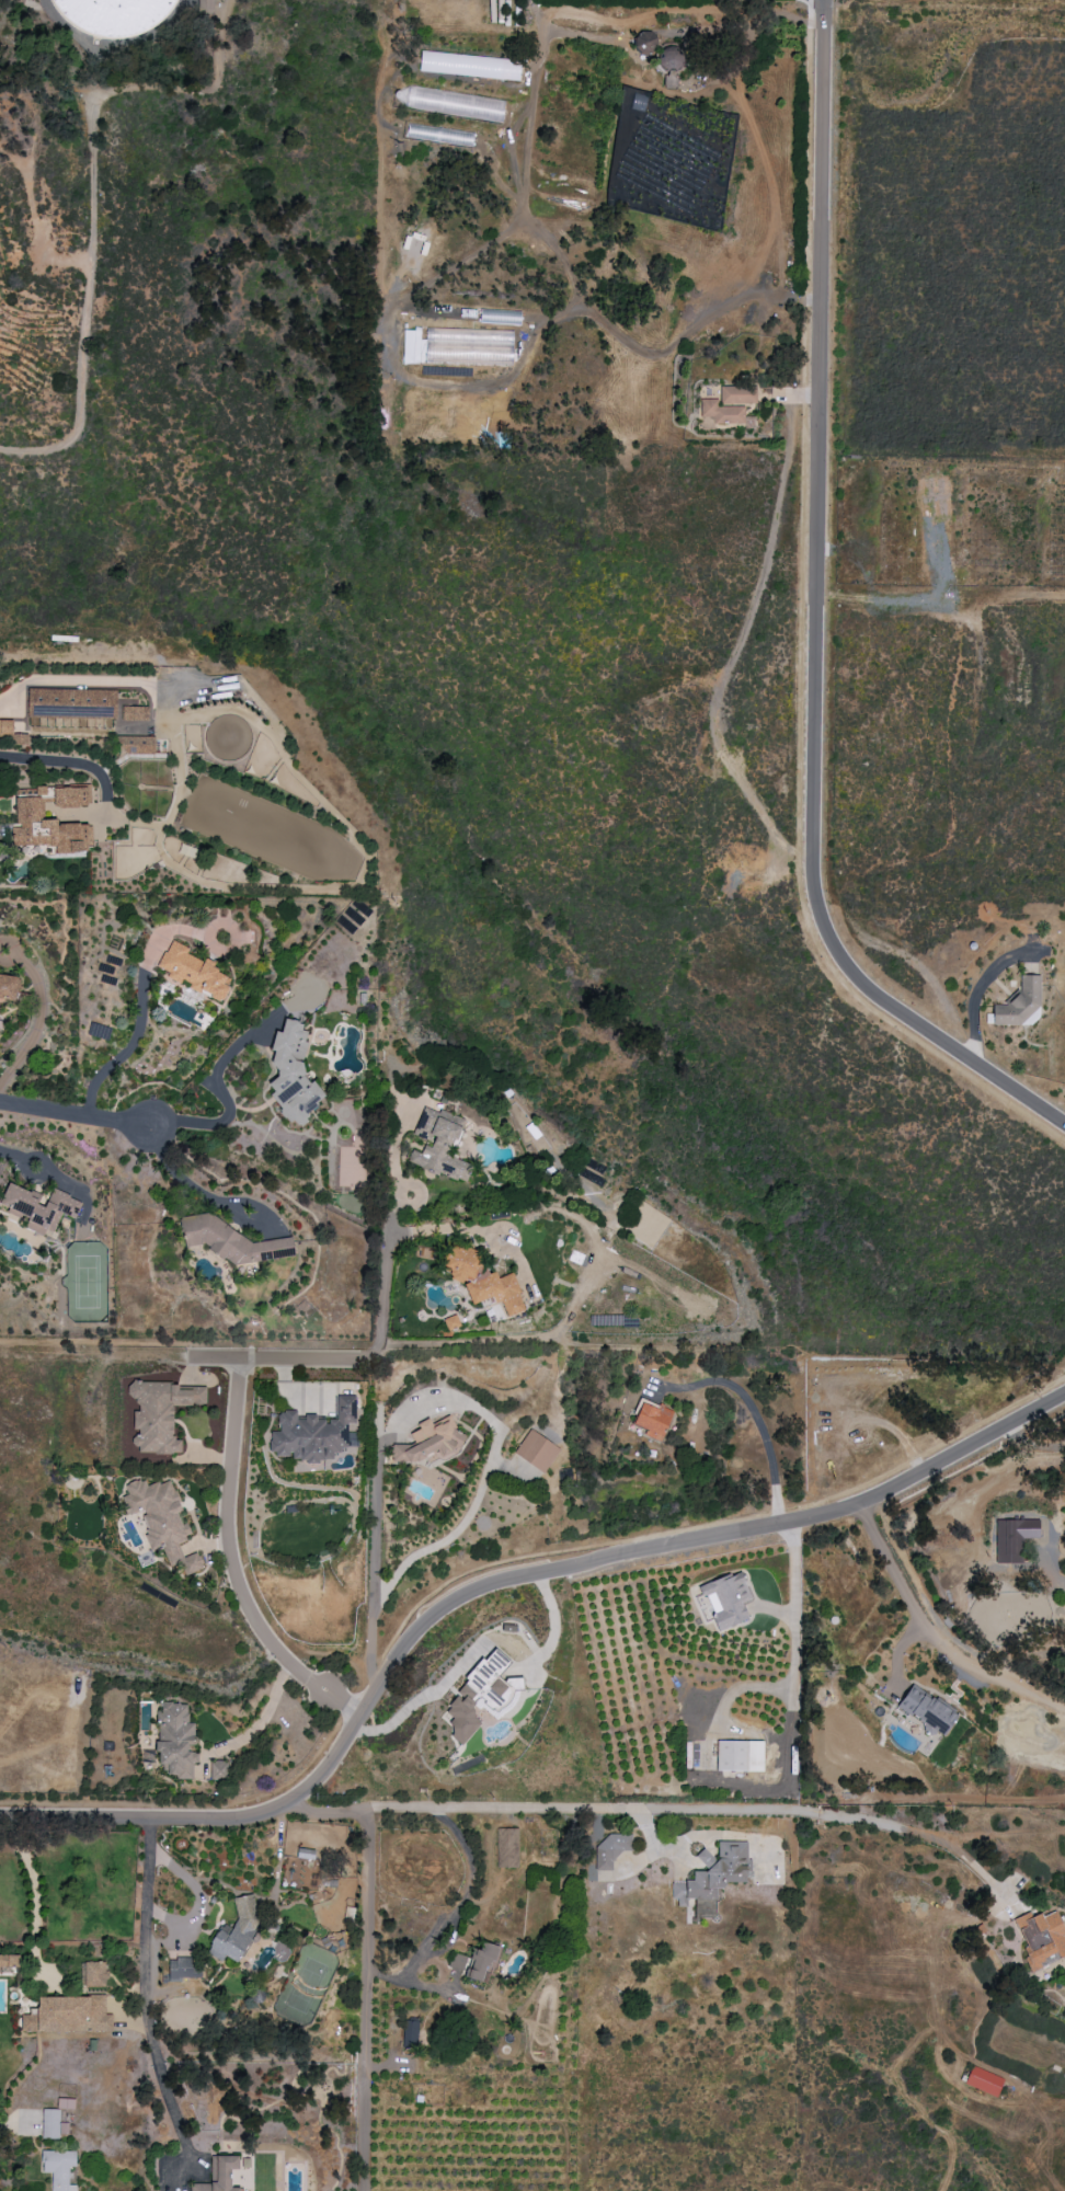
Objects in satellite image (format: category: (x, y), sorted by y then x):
building: (205, 4)
building: (113, 15)
building: (206, 16)
building: (644, 43)
building: (671, 60)
building: (481, 66)
building: (443, 102)
building: (438, 135)
road: (84, 305)
road: (622, 337)
building: (728, 406)
road: (753, 606)
road: (814, 622)
road: (71, 680)
building: (71, 702)
building: (134, 713)
building: (5, 727)
building: (20, 739)
building: (135, 745)
road: (69, 761)
building: (51, 821)
building: (193, 972)
building: (8, 987)
building: (1019, 1003)
road: (36, 1028)
road: (118, 1055)
building: (291, 1075)
road: (224, 1099)
road: (75, 1115)
building: (438, 1145)
road: (7, 1151)
road: (49, 1172)
building: (587, 1182)
road: (195, 1190)
building: (38, 1207)
road: (446, 1227)
building: (204, 1238)
building: (481, 1280)
building: (450, 1322)
road: (562, 1341)
road: (102, 1342)
road: (342, 1357)
road: (1062, 1363)
building: (159, 1414)
building: (652, 1420)
road: (756, 1422)
building: (313, 1433)
building: (426, 1442)
building: (536, 1450)
road: (961, 1458)
road: (488, 1467)
building: (161, 1521)
building: (1012, 1538)
road: (375, 1546)
road: (231, 1559)
building: (726, 1599)
road: (792, 1614)
road: (936, 1636)
road: (396, 1644)
road: (330, 1655)
building: (476, 1696)
building: (926, 1710)
road: (261, 1719)
building: (175, 1740)
building: (738, 1756)
building: (217, 1769)
road: (228, 1804)
road: (654, 1808)
road: (648, 1828)
road: (703, 1836)
building: (506, 1847)
building: (609, 1850)
building: (305, 1854)
building: (714, 1872)
road: (36, 1891)
road: (197, 1895)
road: (462, 1897)
road: (147, 1927)
building: (234, 1932)
building: (1041, 1938)
road: (448, 1942)
building: (9, 1960)
building: (473, 1962)
building: (182, 1969)
building: (93, 1974)
road: (413, 1984)
road: (369, 2000)
building: (67, 2015)
building: (409, 2033)
building: (983, 2081)
building: (65, 2103)
road: (173, 2114)
road: (18, 2122)
building: (53, 2124)
building: (58, 2168)
building: (218, 2175)

